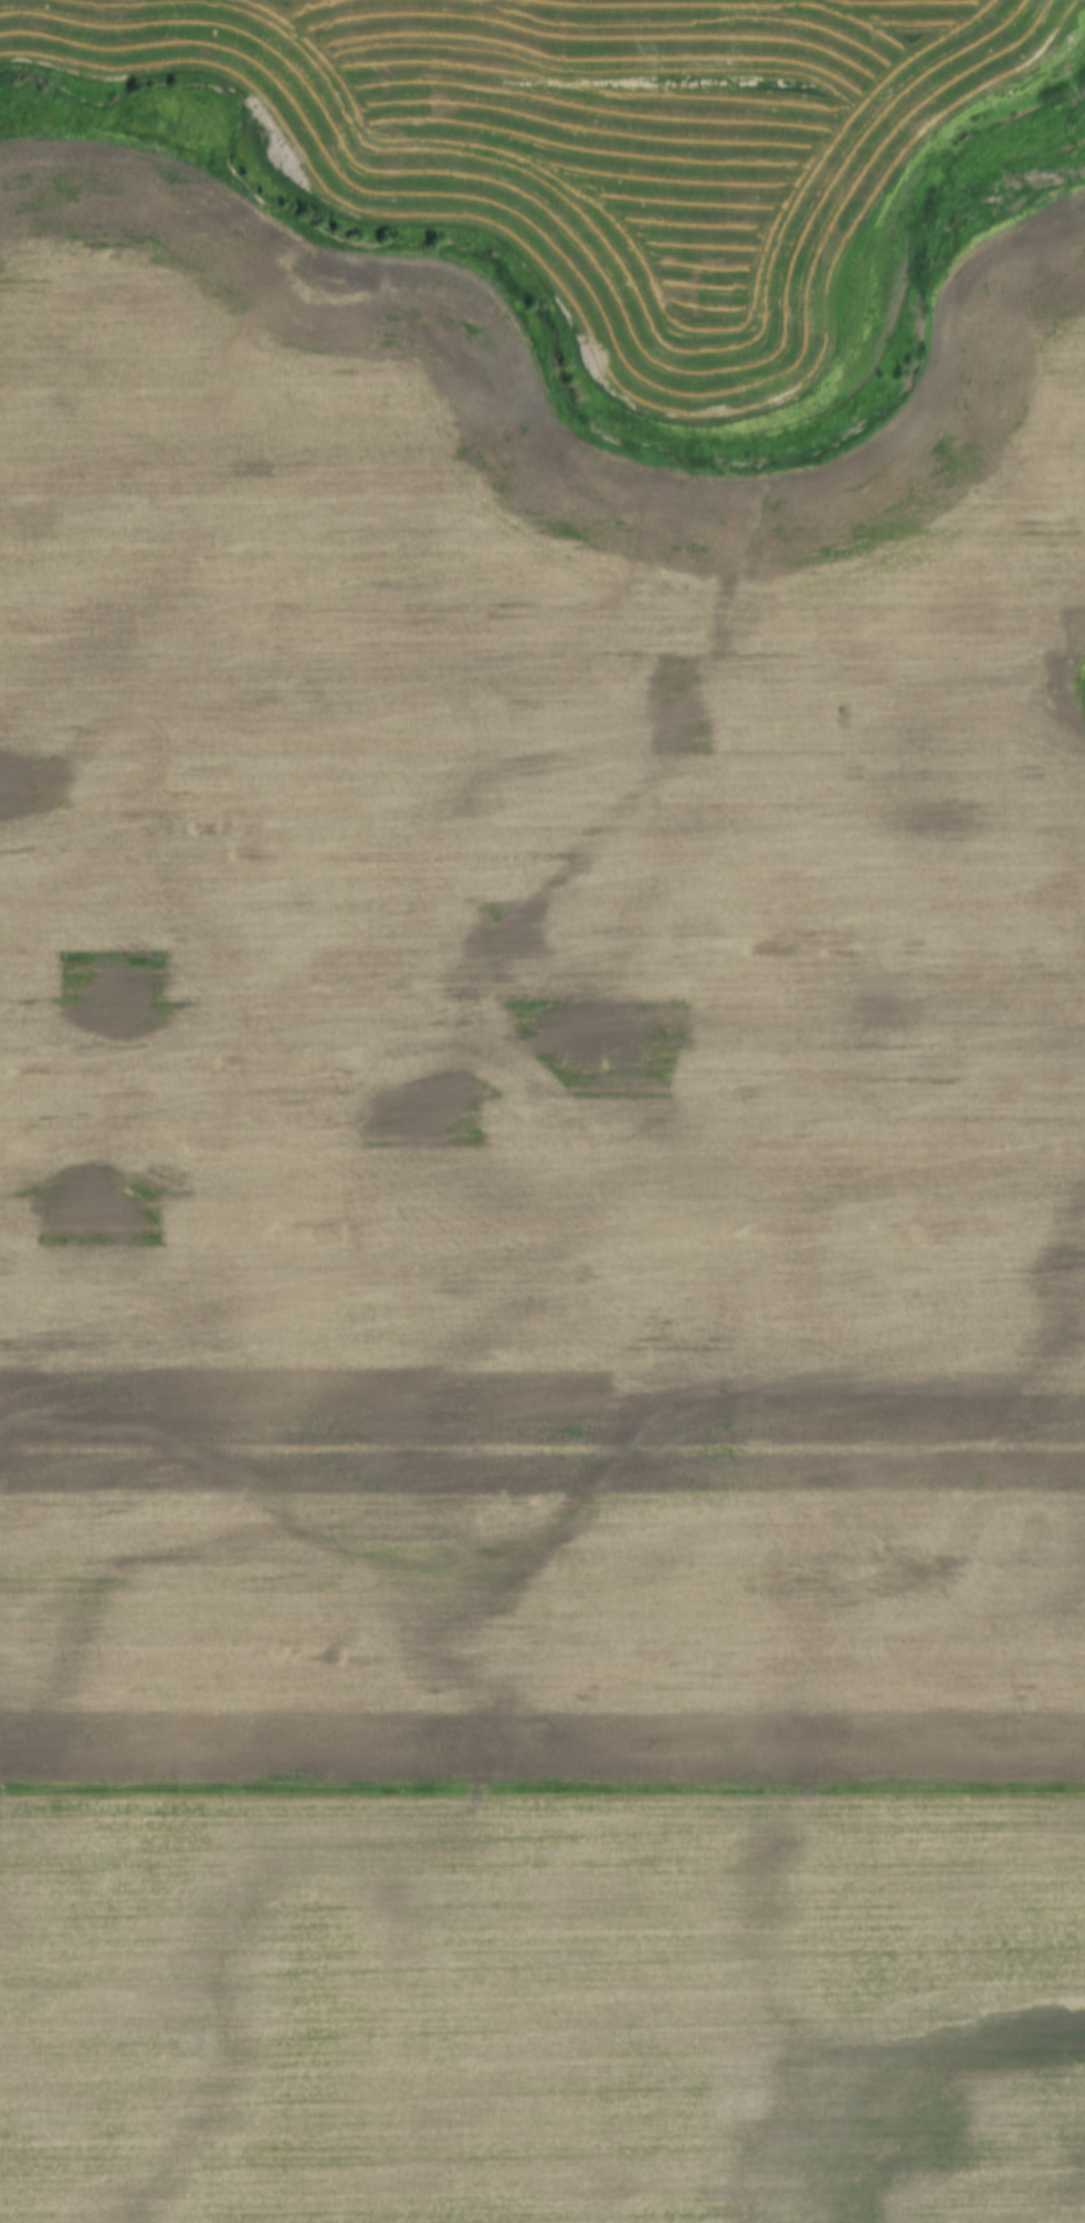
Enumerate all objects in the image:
road: (542, 1792)

